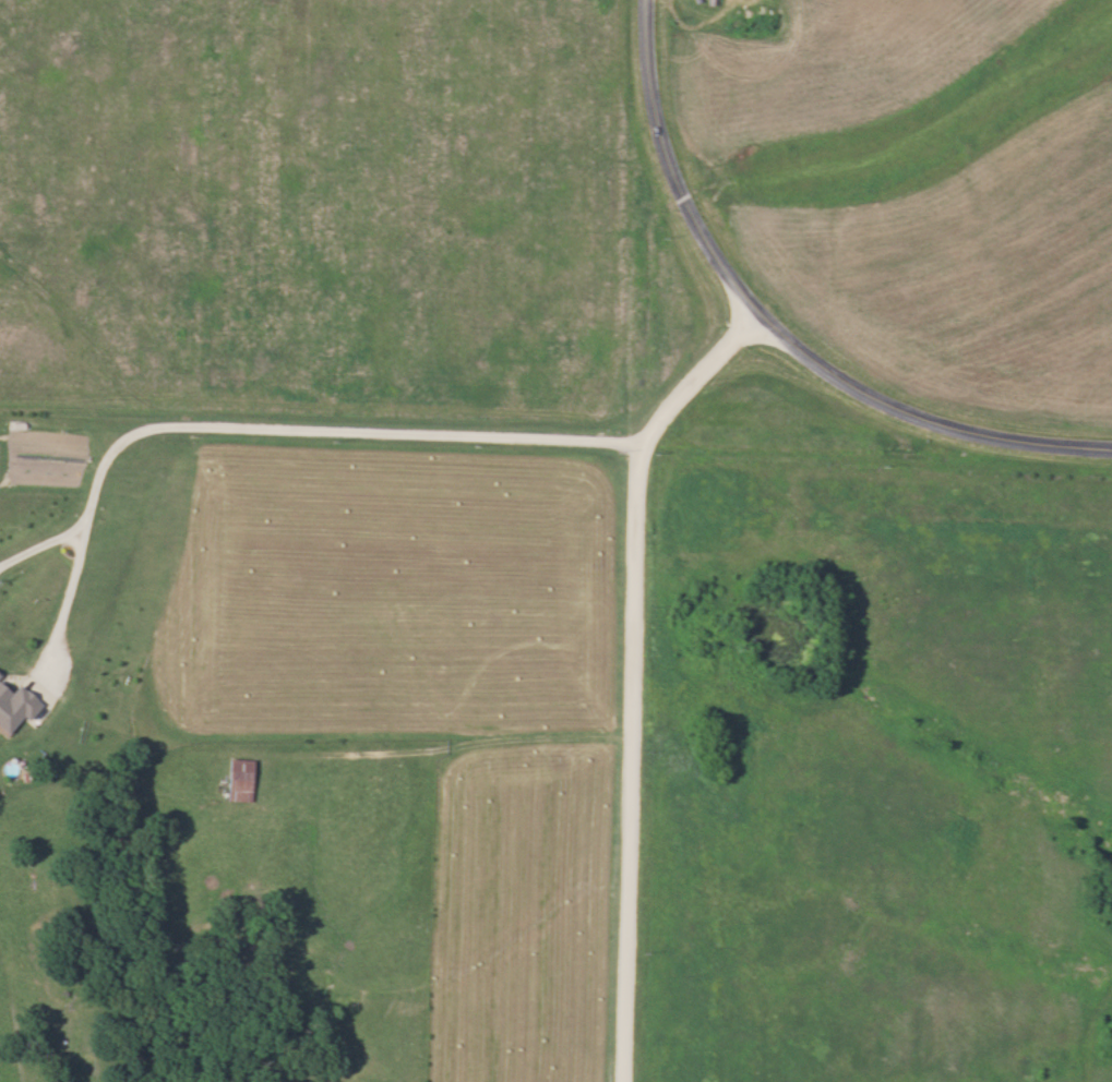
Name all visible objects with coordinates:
road: (668, 165)
road: (918, 416)
road: (253, 429)
road: (37, 543)
road: (624, 670)
building: (237, 781)

